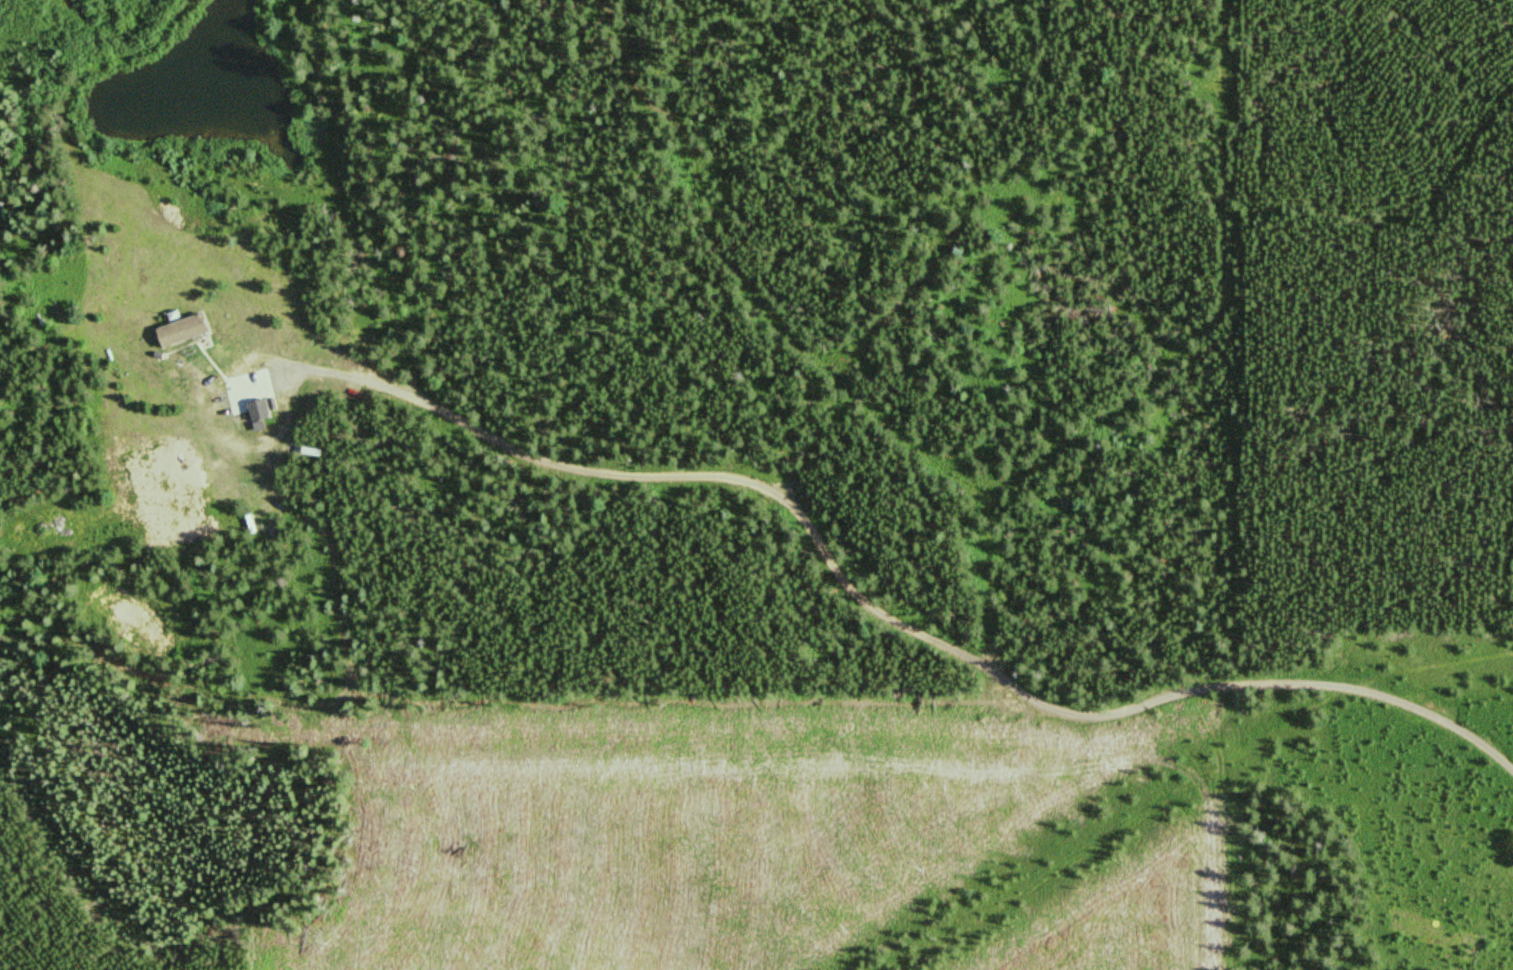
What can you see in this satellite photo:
building: (186, 330)
building: (262, 412)
road: (814, 509)

